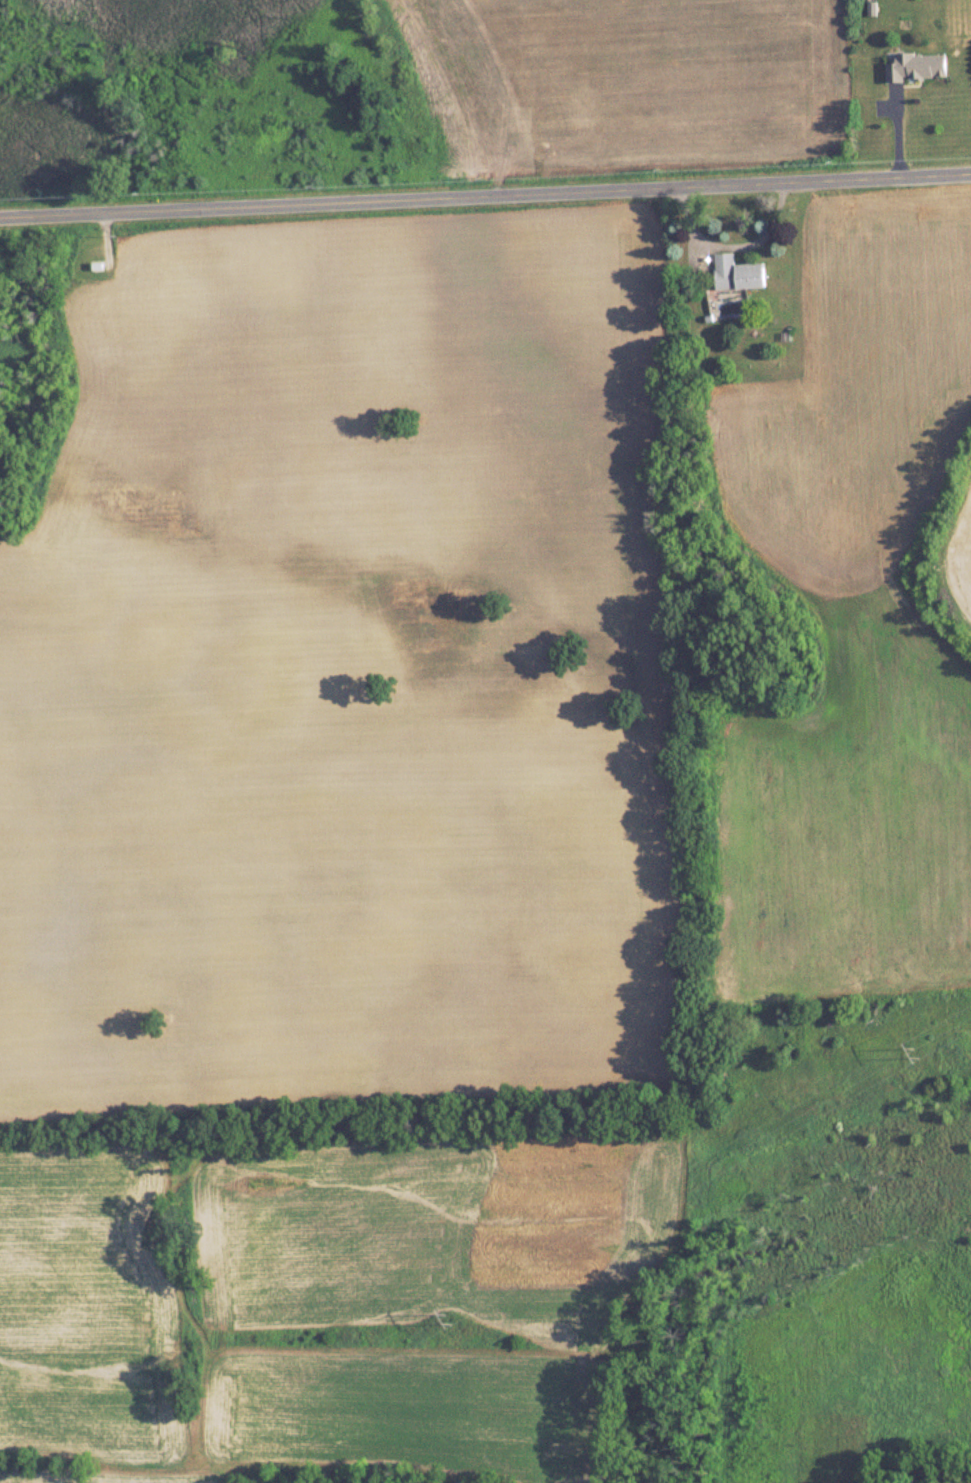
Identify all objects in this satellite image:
building: (917, 67)
road: (485, 198)
building: (737, 272)
power tower: (913, 1049)
power tower: (450, 1314)

